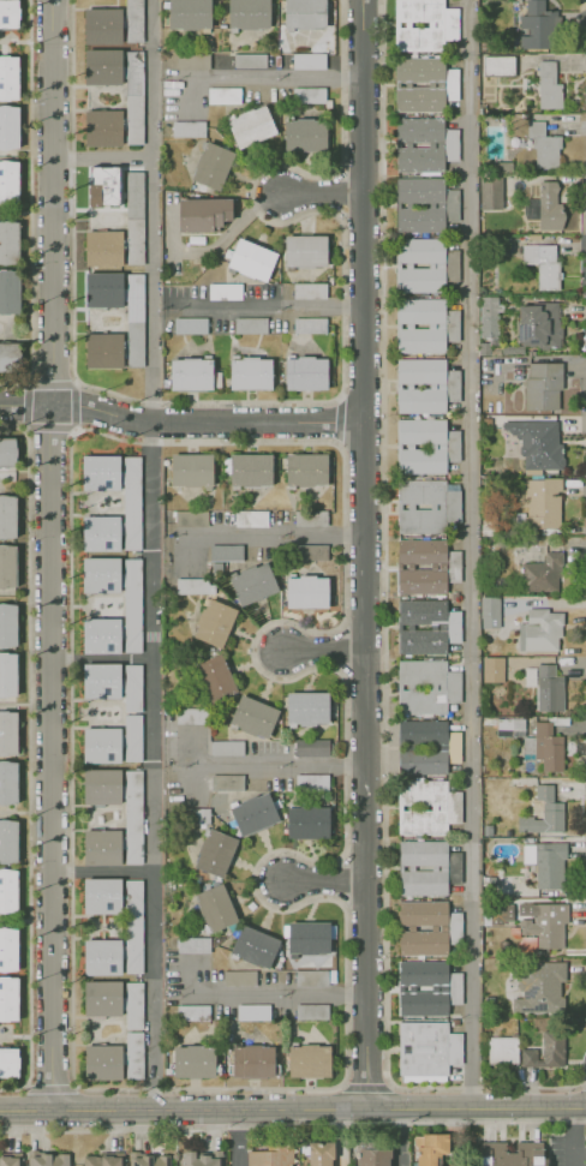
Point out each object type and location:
building: (8, 13)
building: (189, 13)
building: (247, 13)
building: (304, 13)
building: (133, 23)
building: (423, 24)
building: (102, 25)
building: (538, 25)
building: (249, 59)
building: (190, 60)
building: (307, 60)
building: (498, 65)
building: (102, 66)
building: (8, 77)
road: (261, 77)
building: (423, 84)
building: (548, 85)
building: (309, 94)
building: (223, 95)
building: (133, 97)
building: (8, 126)
building: (251, 126)
building: (102, 127)
building: (187, 128)
building: (304, 133)
building: (424, 143)
building: (543, 145)
road: (107, 160)
building: (211, 165)
building: (8, 180)
building: (103, 185)
building: (490, 192)
road: (323, 197)
road: (30, 204)
building: (424, 204)
building: (545, 205)
building: (202, 213)
building: (133, 216)
road: (233, 231)
building: (8, 241)
building: (103, 247)
building: (304, 250)
building: (251, 258)
building: (543, 264)
building: (423, 265)
building: (8, 289)
building: (103, 289)
building: (309, 289)
building: (225, 292)
road: (258, 304)
building: (489, 315)
building: (133, 319)
building: (309, 324)
building: (424, 324)
building: (538, 324)
building: (190, 325)
building: (250, 325)
building: (103, 349)
building: (10, 354)
building: (190, 372)
building: (250, 372)
building: (305, 372)
building: (425, 384)
road: (25, 385)
building: (543, 385)
road: (337, 419)
road: (180, 421)
building: (537, 442)
building: (421, 447)
building: (7, 452)
building: (191, 468)
building: (250, 468)
building: (305, 468)
building: (97, 471)
building: (128, 500)
building: (542, 502)
building: (425, 506)
building: (7, 515)
building: (191, 516)
building: (251, 516)
building: (310, 518)
building: (97, 531)
road: (276, 533)
building: (226, 551)
building: (310, 551)
road: (472, 554)
road: (154, 555)
road: (365, 555)
road: (59, 556)
building: (7, 566)
building: (425, 566)
building: (100, 573)
building: (542, 573)
building: (252, 584)
building: (195, 585)
building: (306, 591)
building: (131, 600)
building: (490, 611)
building: (214, 622)
building: (7, 624)
building: (537, 624)
building: (425, 626)
building: (100, 633)
road: (384, 640)
road: (325, 648)
road: (107, 658)
building: (492, 669)
building: (7, 674)
building: (530, 676)
building: (216, 677)
building: (101, 680)
building: (425, 686)
building: (548, 686)
building: (132, 687)
building: (306, 707)
building: (252, 716)
building: (509, 726)
building: (7, 731)
building: (131, 737)
building: (101, 745)
building: (426, 746)
building: (548, 746)
building: (226, 747)
building: (311, 747)
road: (28, 758)
building: (8, 782)
building: (226, 782)
building: (311, 782)
building: (101, 785)
building: (425, 807)
building: (543, 812)
building: (253, 813)
building: (132, 814)
building: (307, 821)
building: (7, 841)
building: (101, 847)
building: (215, 851)
building: (527, 853)
building: (549, 865)
building: (423, 867)
building: (455, 867)
road: (107, 872)
road: (324, 879)
building: (8, 890)
building: (101, 895)
building: (215, 907)
building: (500, 913)
building: (544, 921)
building: (132, 927)
building: (438, 927)
building: (454, 927)
building: (309, 935)
building: (192, 944)
building: (255, 945)
building: (8, 949)
building: (101, 956)
building: (239, 976)
building: (311, 977)
building: (539, 986)
building: (421, 987)
building: (454, 987)
road: (276, 994)
building: (8, 998)
building: (102, 998)
building: (132, 1004)
building: (192, 1011)
building: (252, 1011)
building: (311, 1011)
building: (426, 1050)
building: (502, 1050)
building: (544, 1051)
building: (133, 1053)
building: (309, 1059)
building: (193, 1060)
building: (252, 1060)
building: (8, 1062)
building: (102, 1062)
road: (585, 1083)
road: (292, 1111)
road: (293, 1124)
road: (574, 1136)
road: (459, 1137)
road: (239, 1138)
road: (341, 1138)
road: (403, 1138)
building: (429, 1148)
building: (319, 1153)
building: (515, 1153)
building: (585, 1154)
building: (270, 1156)
building: (372, 1156)
building: (199, 1158)
building: (10, 1159)
building: (48, 1159)
building: (102, 1159)
building: (149, 1159)

